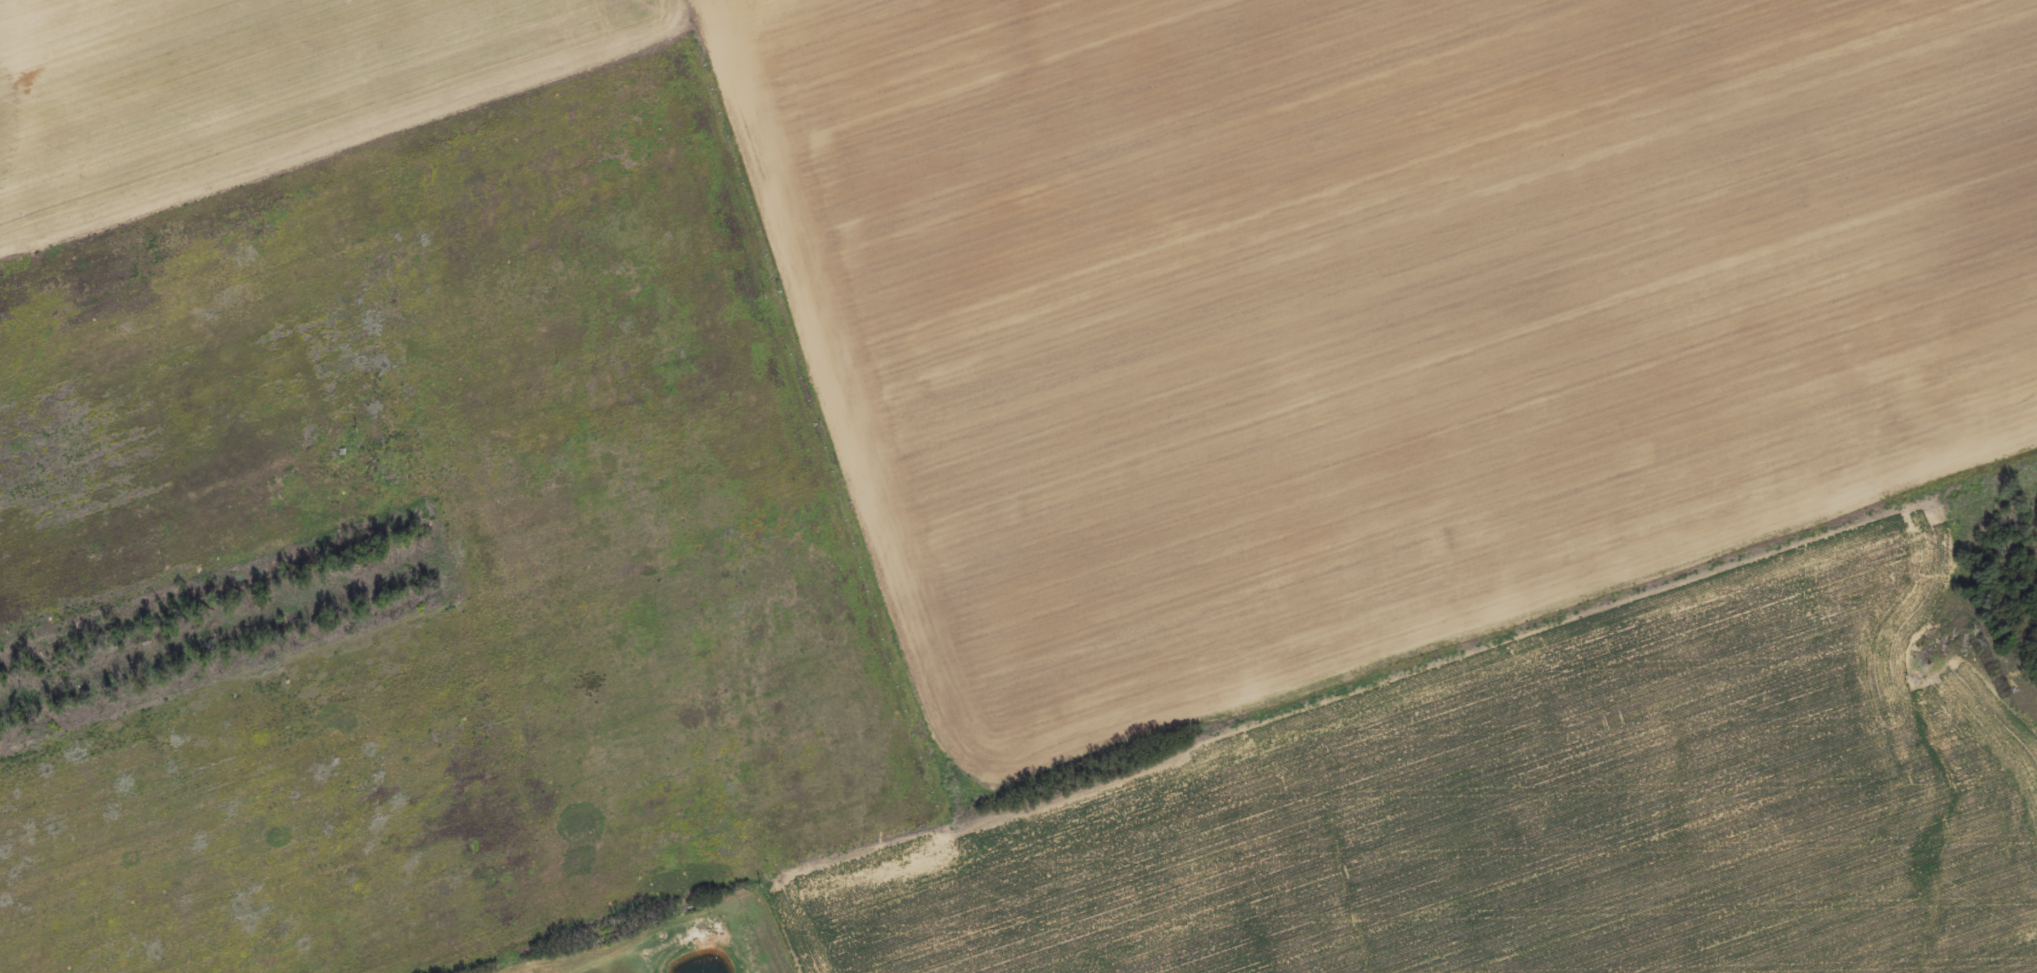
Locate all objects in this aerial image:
road: (207, 692)

